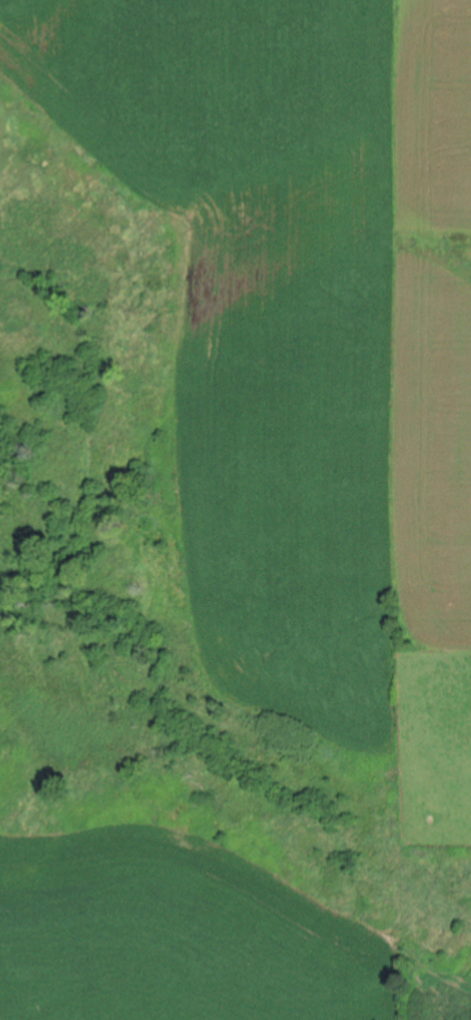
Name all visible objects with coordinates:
crop: (303, 308)
crop: (435, 739)
crop: (190, 941)

